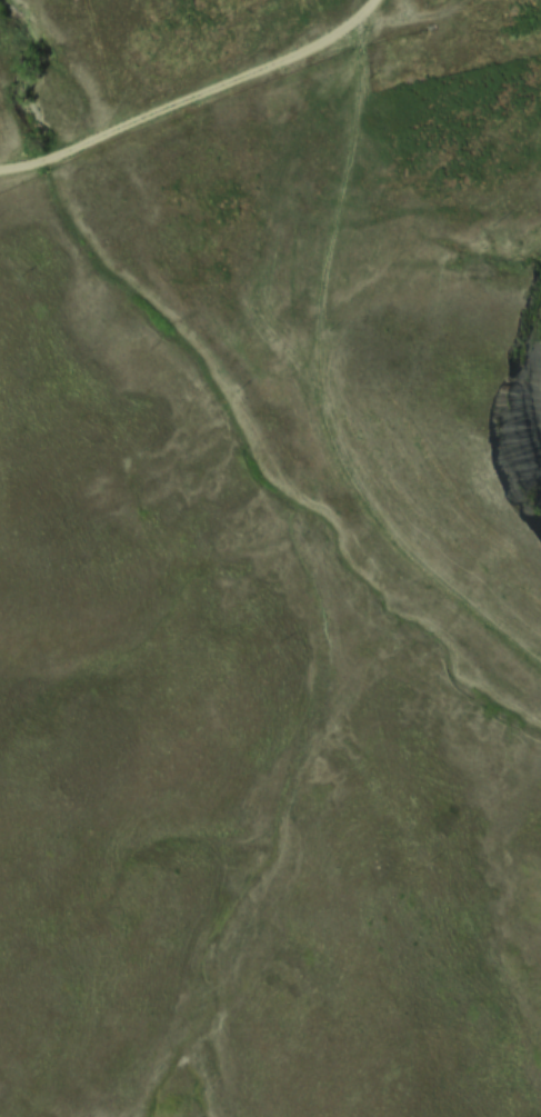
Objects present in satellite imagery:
road: (194, 101)

